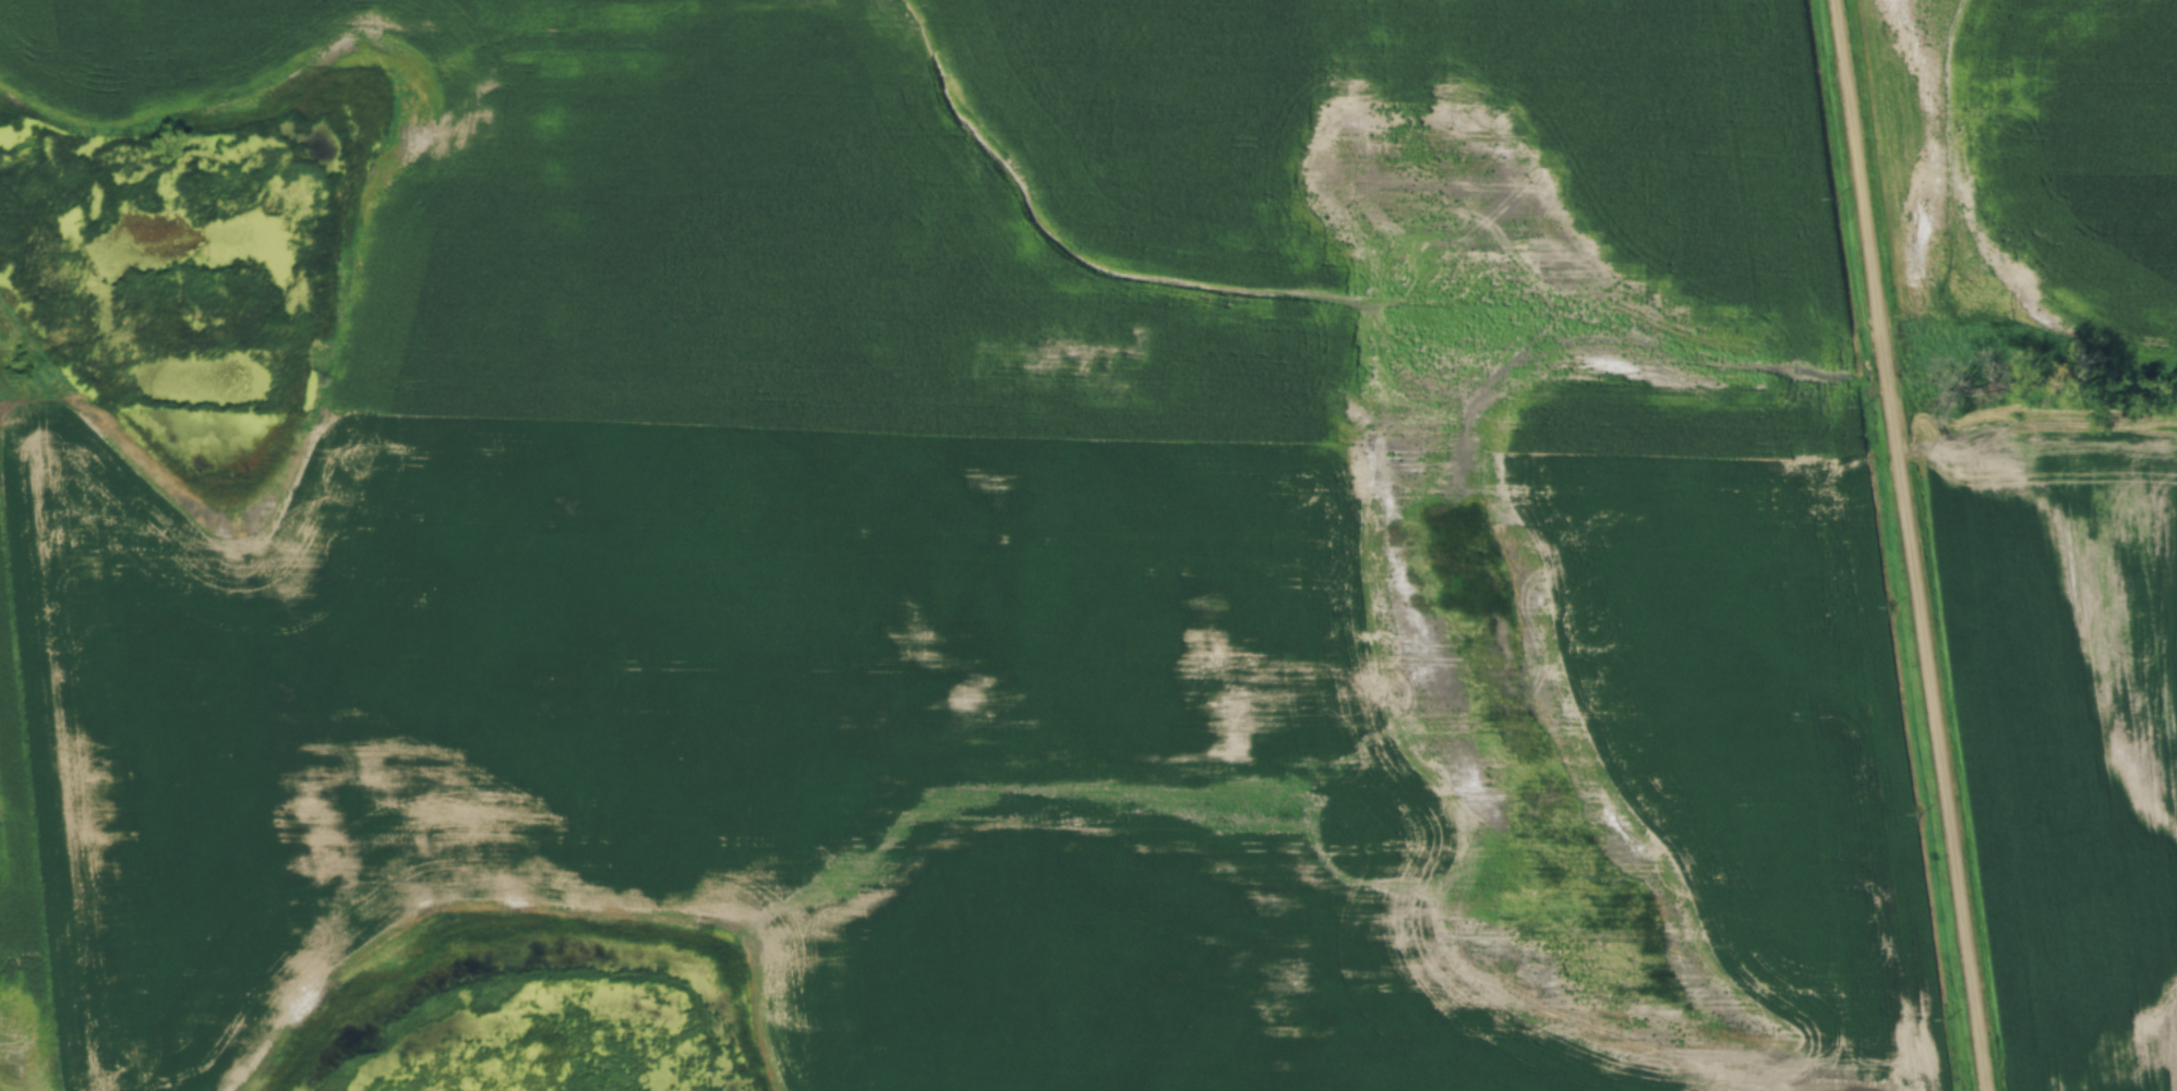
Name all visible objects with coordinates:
road: (1909, 545)

